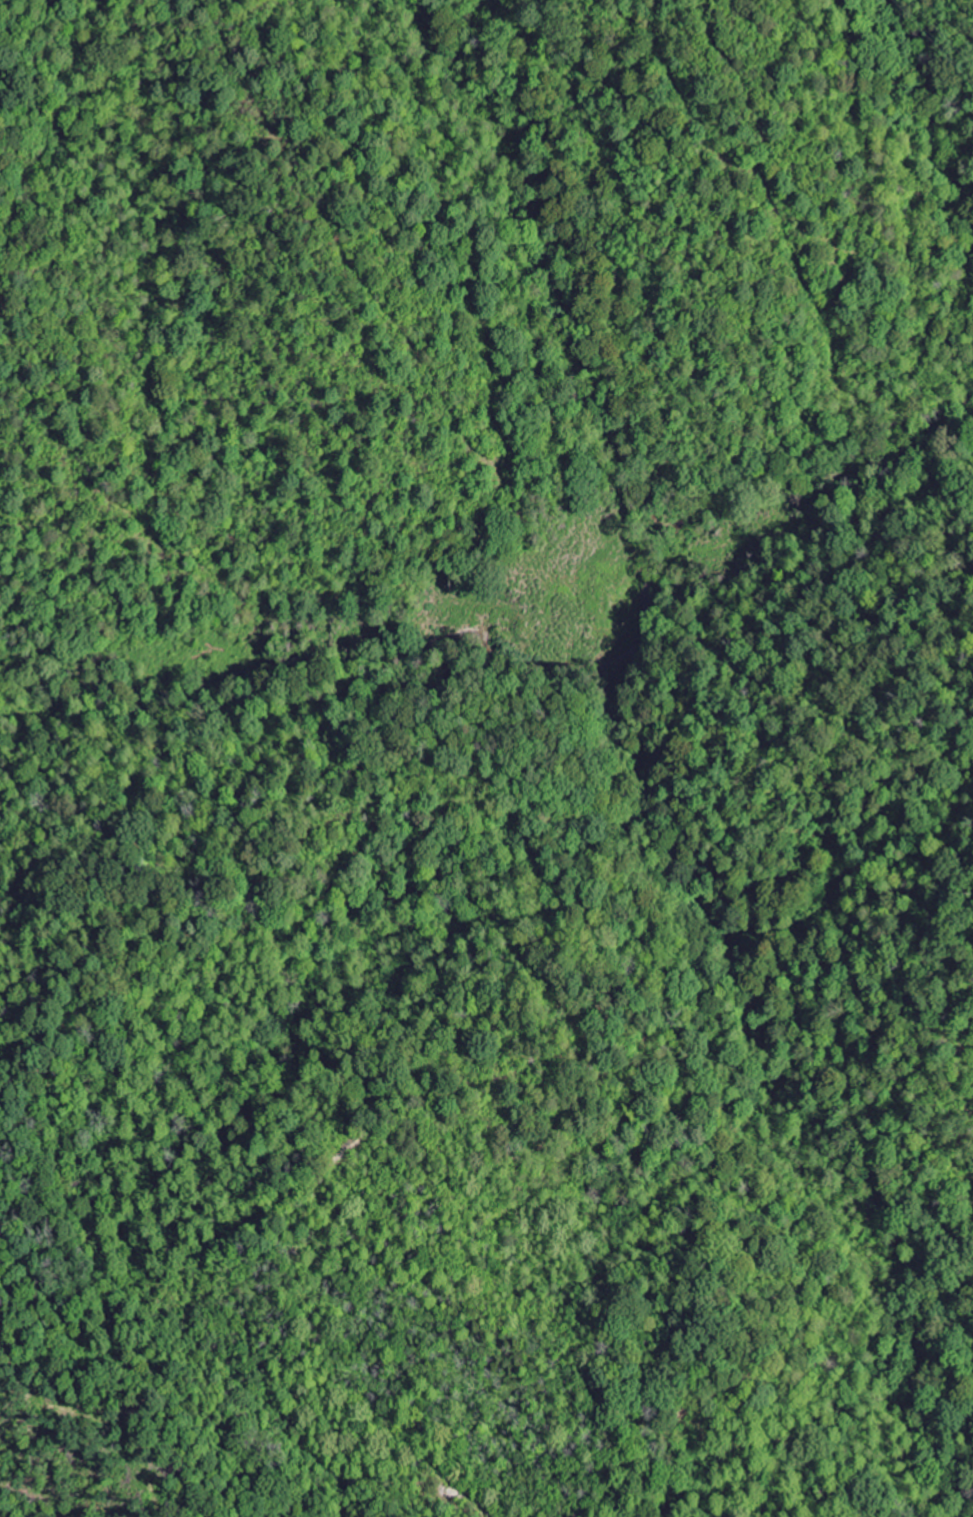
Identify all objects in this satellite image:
road: (520, 663)

